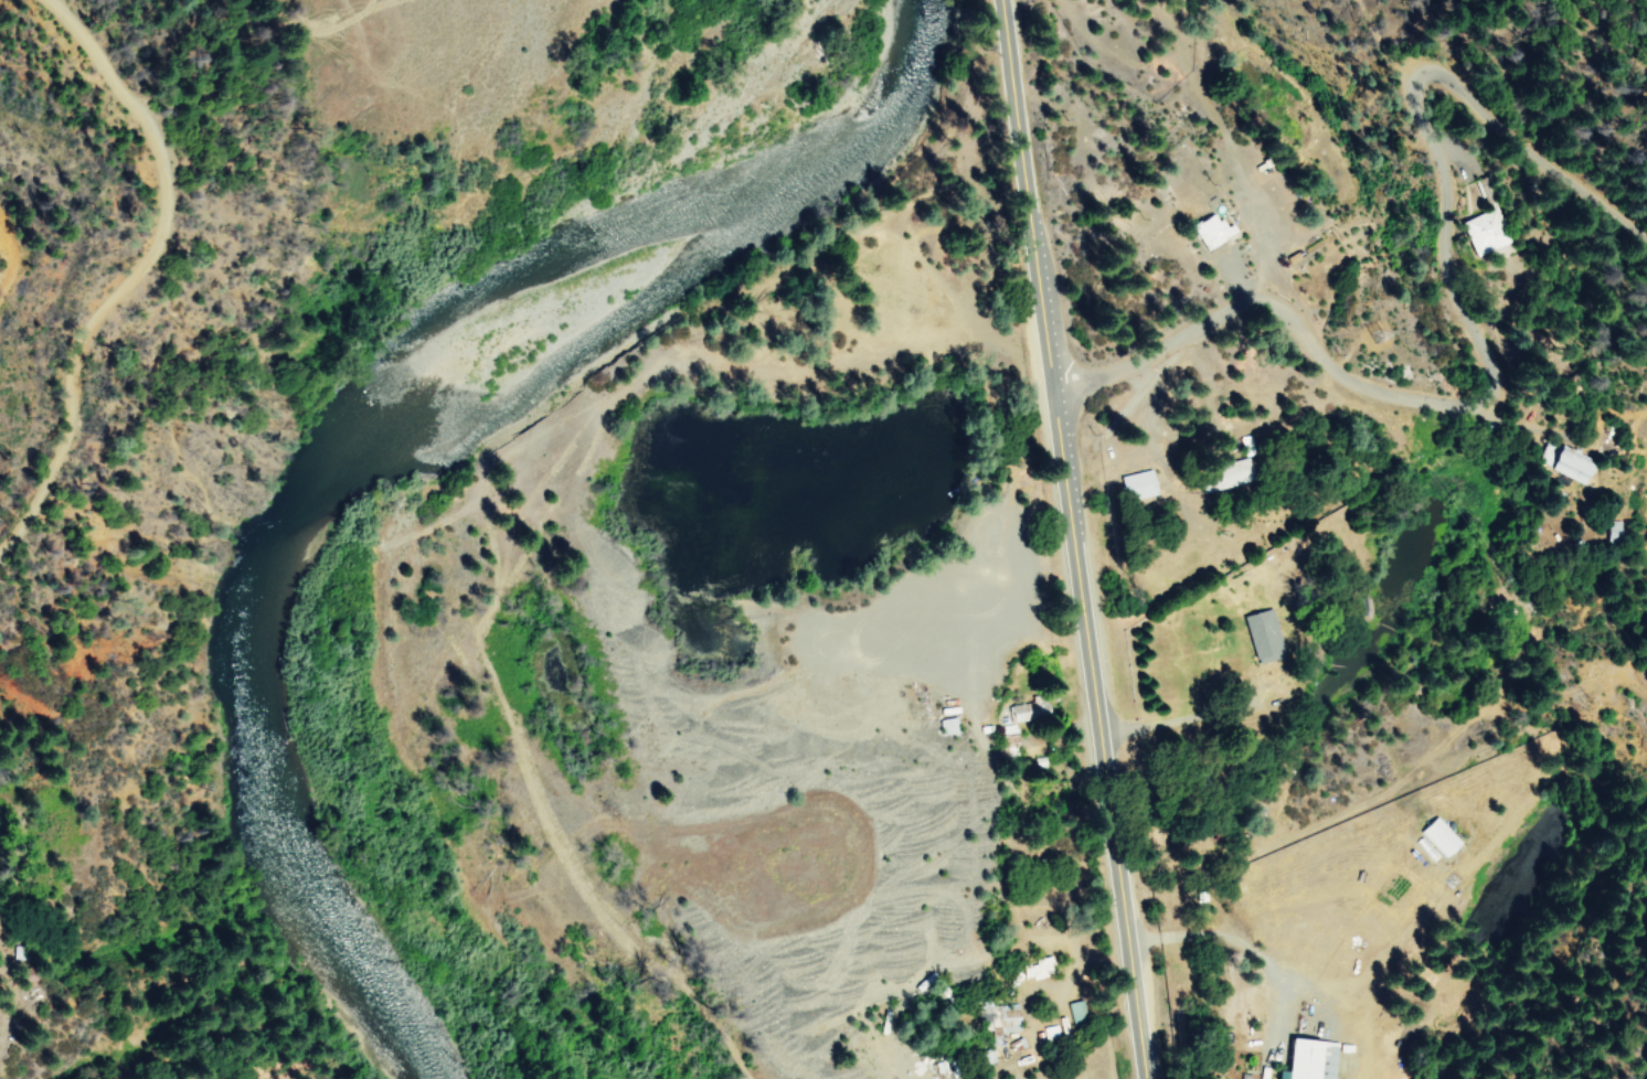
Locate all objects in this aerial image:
building: (1210, 231)
road: (132, 269)
road: (1423, 321)
power tower: (1373, 334)
river: (361, 430)
building: (1570, 464)
building: (1225, 476)
building: (1136, 484)
building: (1614, 526)
road: (1073, 539)
building: (1260, 635)
building: (1027, 711)
building: (1438, 835)
building: (1075, 1012)
building: (1000, 1024)
building: (1308, 1059)

